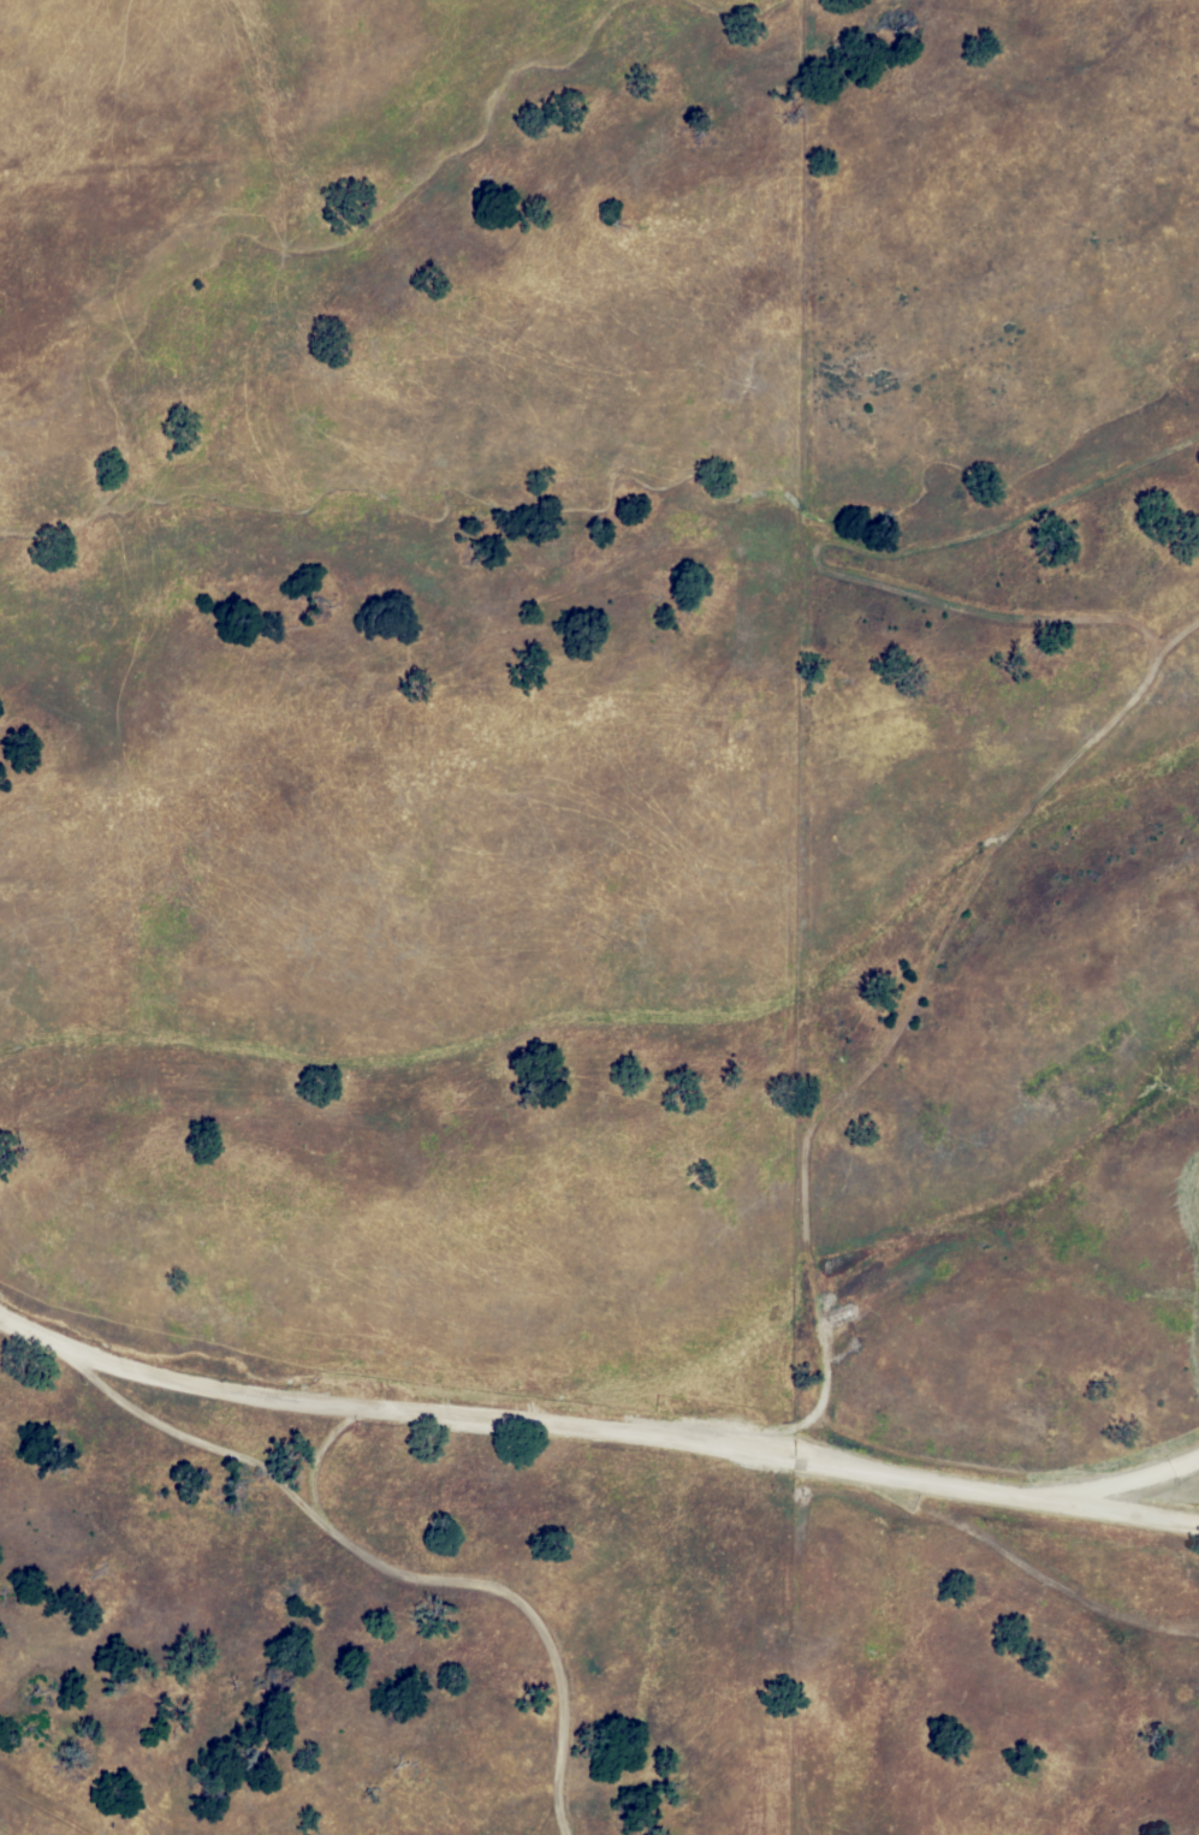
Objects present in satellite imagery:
road: (595, 1425)

